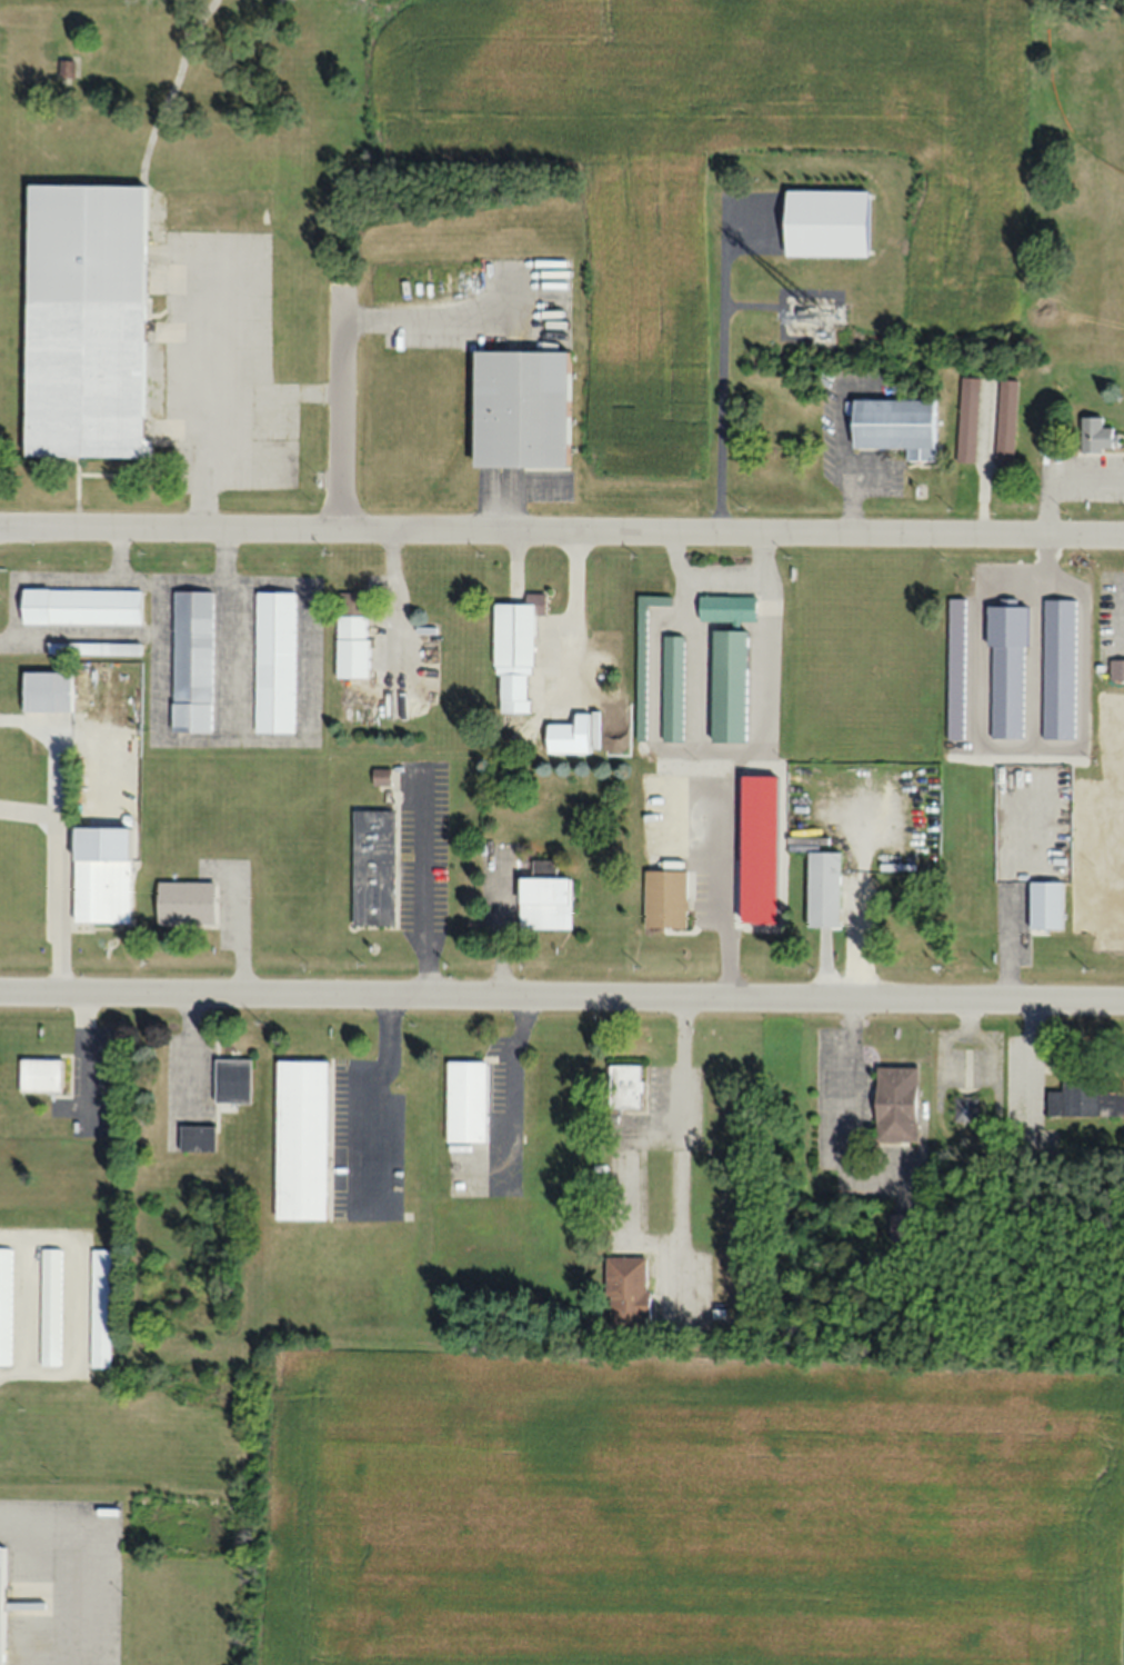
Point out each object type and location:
building: (64, 67)
building: (824, 222)
building: (83, 320)
road: (723, 366)
road: (339, 407)
building: (518, 408)
building: (966, 418)
building: (1005, 421)
building: (894, 426)
building: (1096, 435)
road: (561, 528)
building: (350, 601)
building: (80, 606)
building: (725, 608)
parking lot: (1110, 615)
road: (1118, 621)
building: (350, 645)
building: (92, 648)
building: (513, 649)
building: (642, 659)
building: (191, 660)
building: (273, 661)
building: (1116, 669)
building: (727, 686)
building: (671, 688)
building: (46, 690)
building: (571, 735)
road: (28, 808)
road: (57, 836)
building: (372, 866)
building: (543, 867)
building: (821, 888)
building: (101, 890)
building: (664, 898)
building: (184, 901)
building: (542, 901)
building: (1044, 905)
road: (562, 1000)
building: (39, 1074)
building: (231, 1080)
building: (624, 1086)
building: (1084, 1100)
building: (464, 1101)
building: (894, 1104)
building: (965, 1108)
building: (195, 1138)
building: (299, 1139)
building: (624, 1293)
building: (4, 1306)
building: (49, 1306)
building: (99, 1307)
building: (93, 1506)
crop: (686, 1508)
building: (0, 1599)

